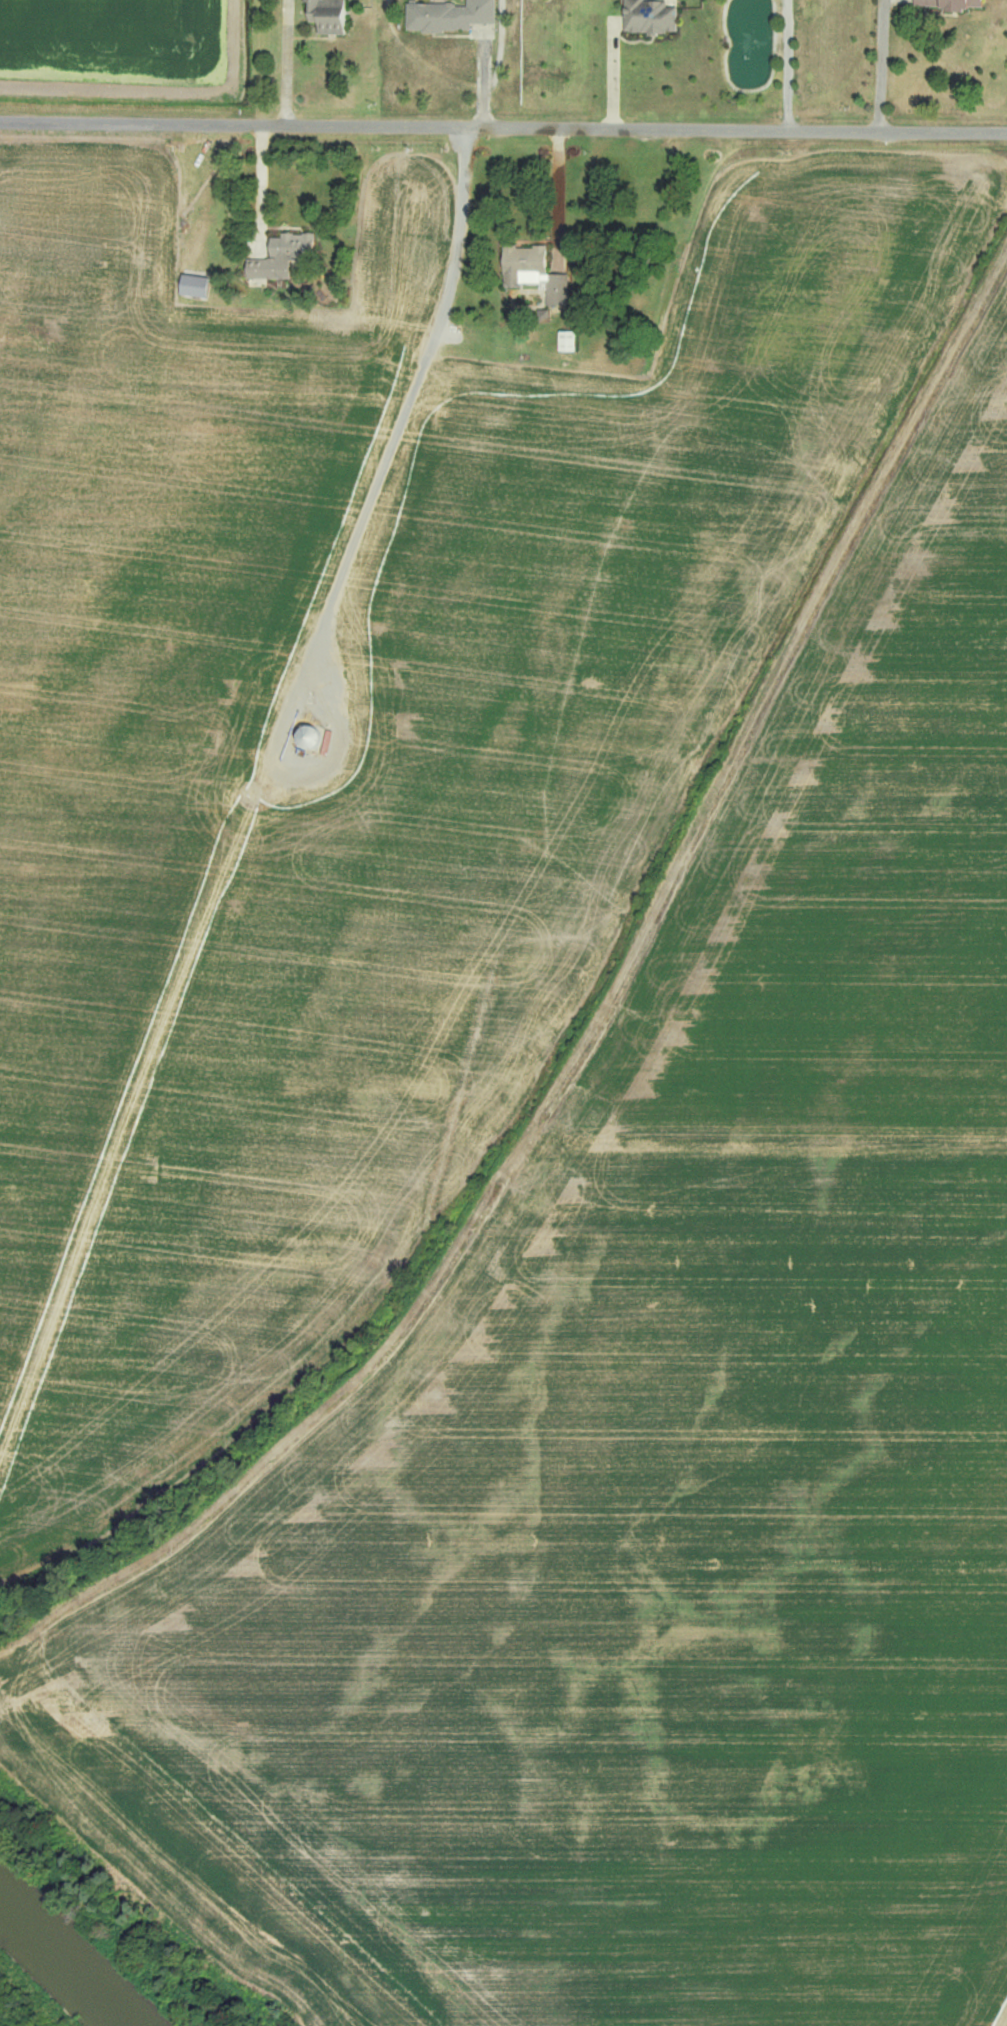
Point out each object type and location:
building: (943, 3)
building: (447, 15)
building: (331, 16)
building: (646, 16)
road: (288, 63)
road: (880, 66)
road: (498, 67)
road: (503, 128)
road: (262, 190)
road: (561, 193)
building: (285, 255)
building: (537, 271)
building: (197, 285)
building: (569, 340)

